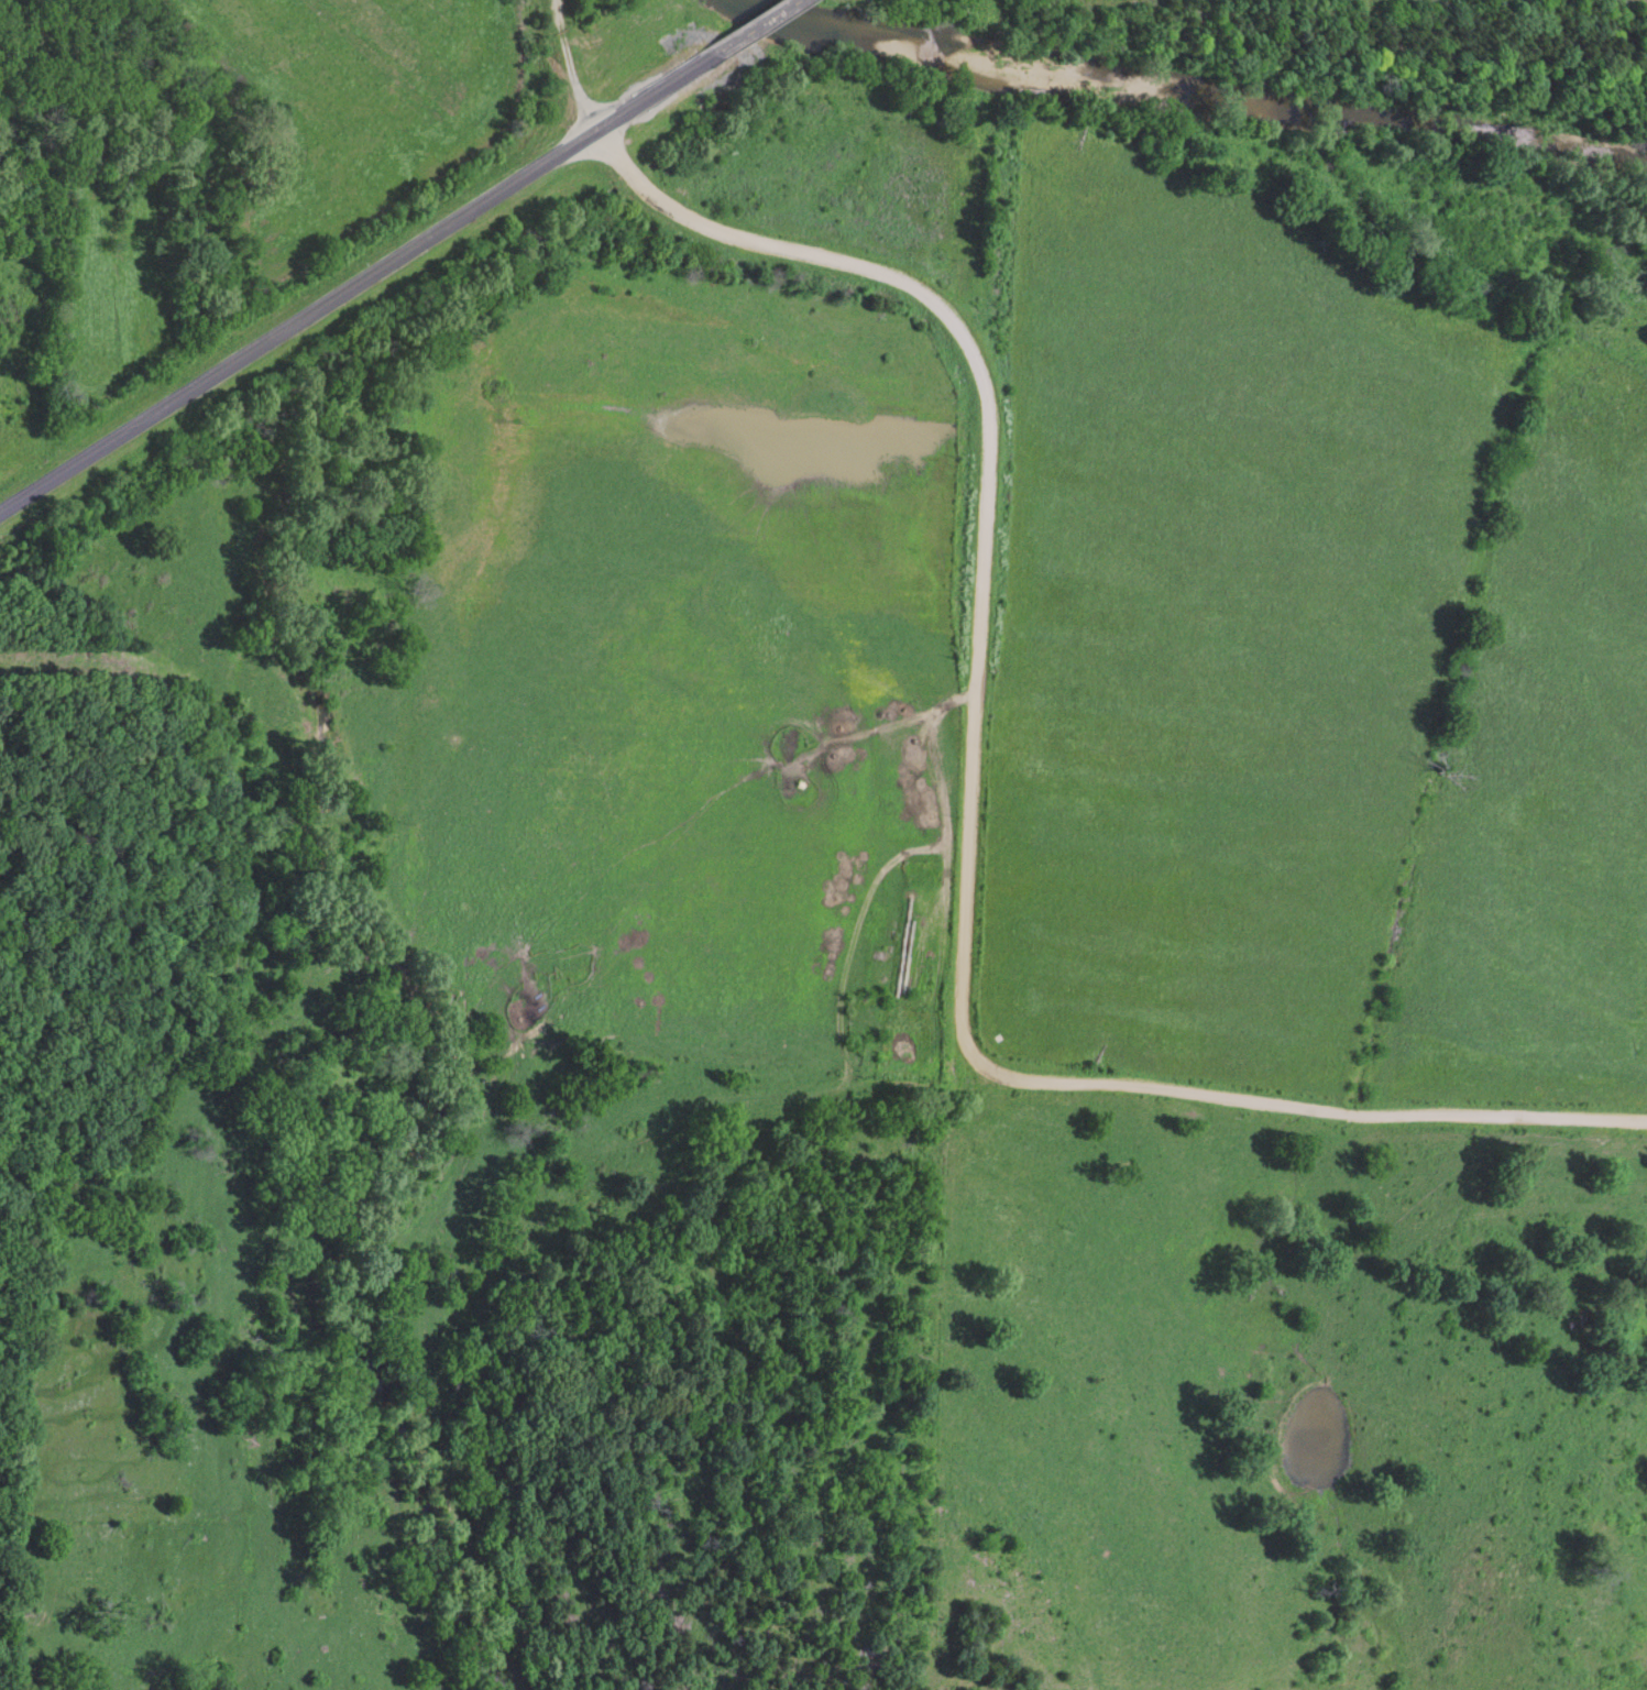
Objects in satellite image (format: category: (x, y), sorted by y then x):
road: (396, 257)
road: (971, 817)

